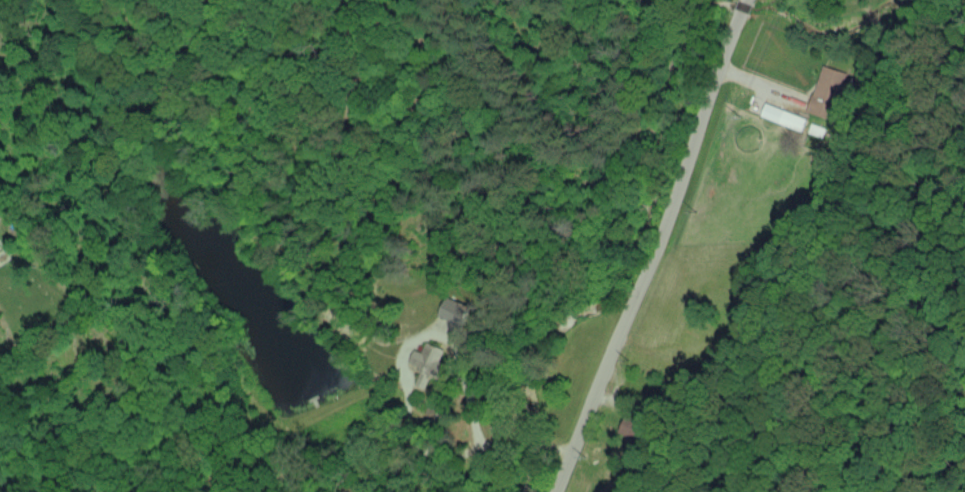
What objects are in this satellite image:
building: (825, 91)
building: (780, 116)
road: (656, 247)
building: (424, 361)
road: (407, 393)

